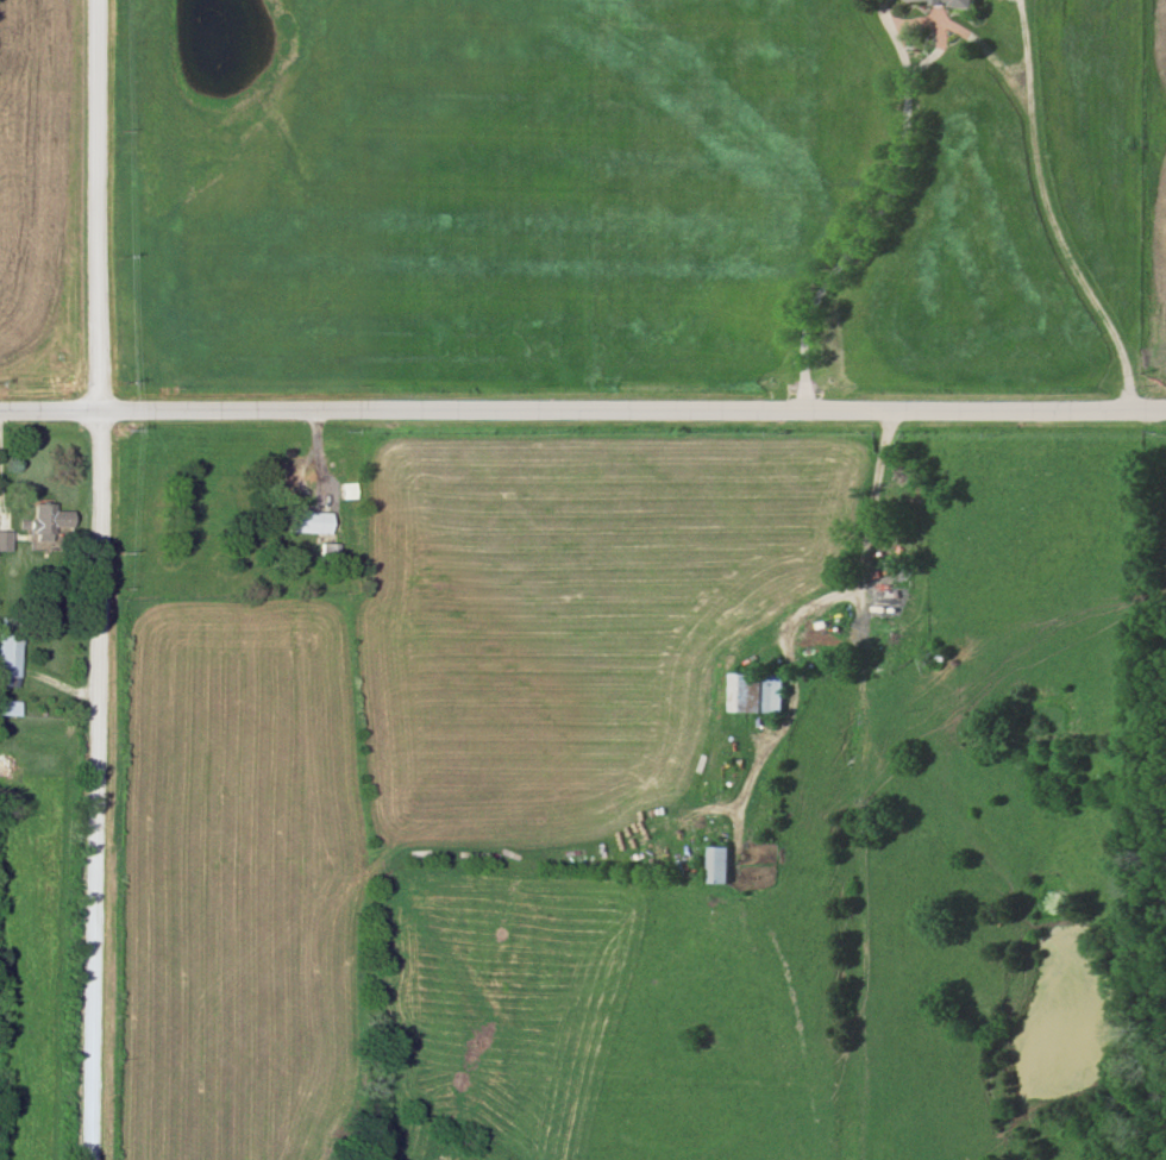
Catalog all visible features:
building: (940, 1)
road: (936, 32)
road: (1022, 57)
road: (1010, 65)
road: (1043, 201)
road: (874, 211)
road: (582, 408)
building: (346, 491)
building: (46, 520)
building: (307, 522)
building: (5, 540)
building: (330, 552)
road: (855, 571)
road: (106, 579)
building: (8, 646)
building: (753, 692)
building: (10, 707)
building: (714, 865)

